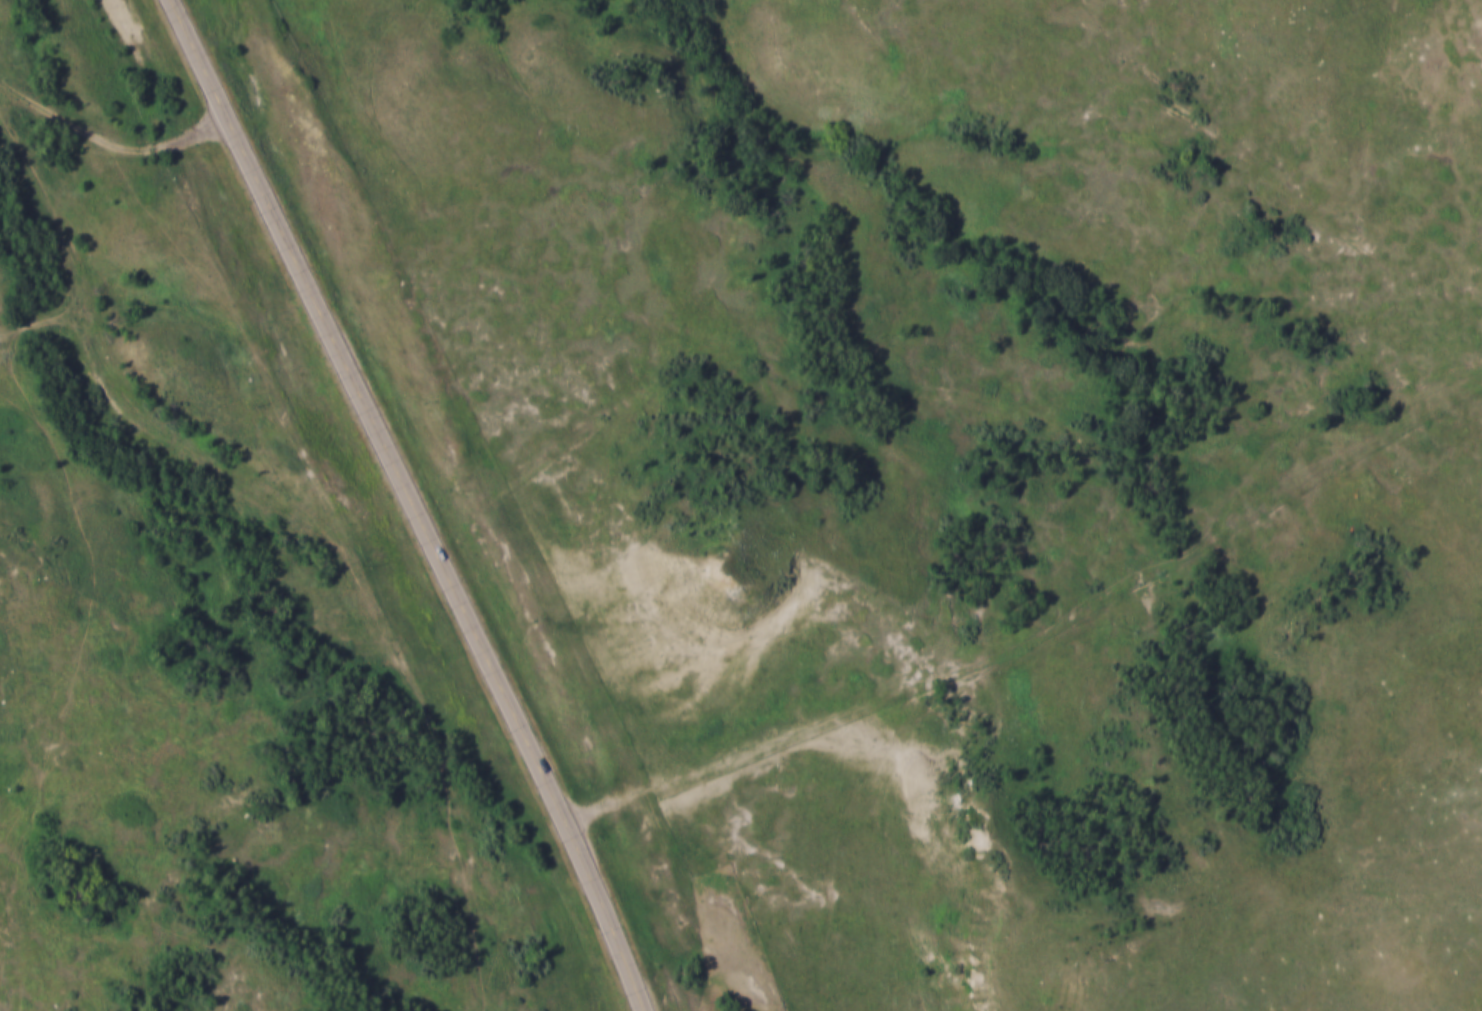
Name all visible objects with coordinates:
road: (108, 138)
road: (413, 504)
road: (759, 737)

